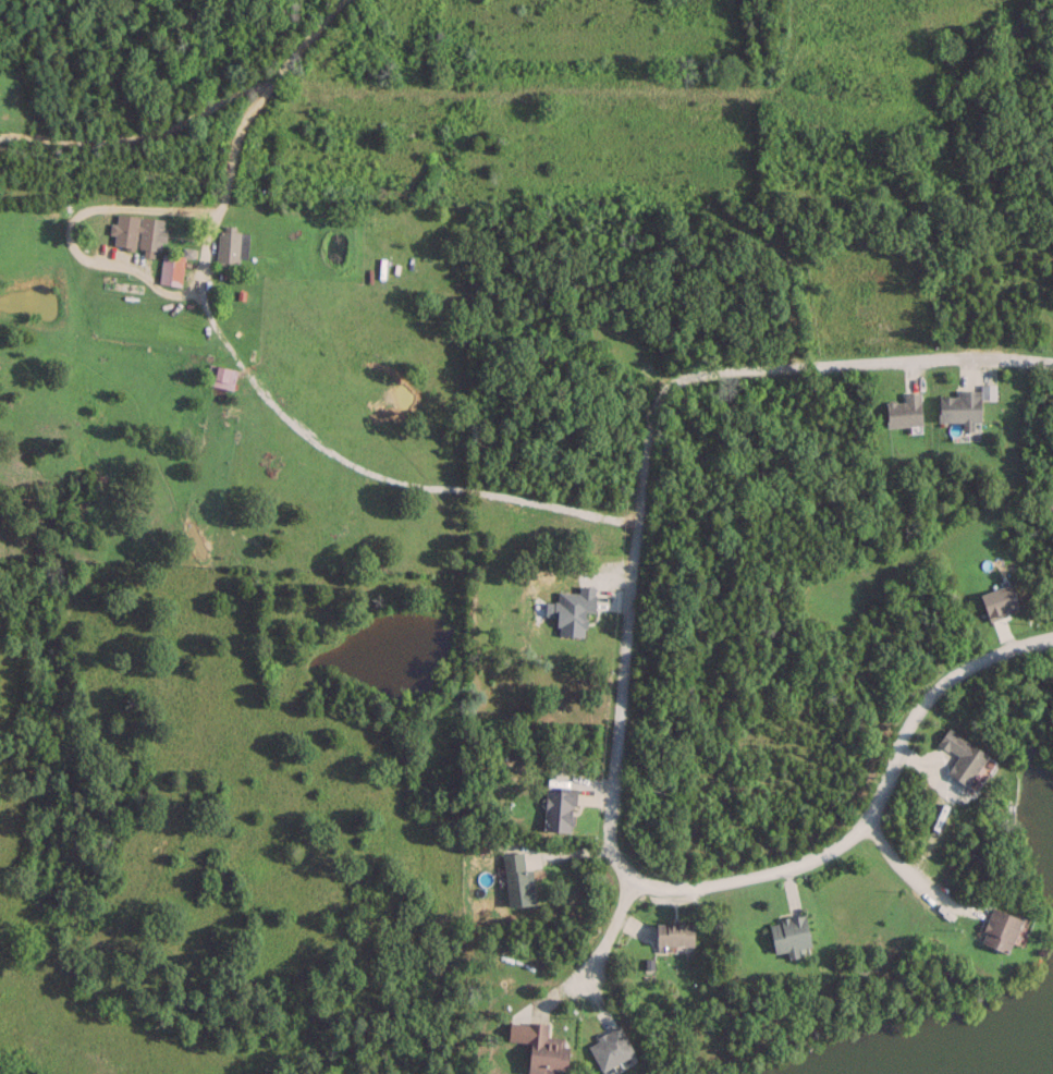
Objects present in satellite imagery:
road: (145, 135)
road: (235, 136)
road: (69, 230)
building: (138, 230)
building: (232, 246)
building: (170, 269)
road: (873, 359)
building: (220, 375)
building: (960, 408)
building: (904, 411)
road: (375, 479)
road: (630, 605)
building: (962, 756)
building: (558, 810)
road: (865, 818)
road: (906, 875)
building: (517, 878)
building: (1000, 929)
building: (674, 931)
building: (789, 933)
road: (601, 943)
building: (610, 1046)
building: (546, 1050)

